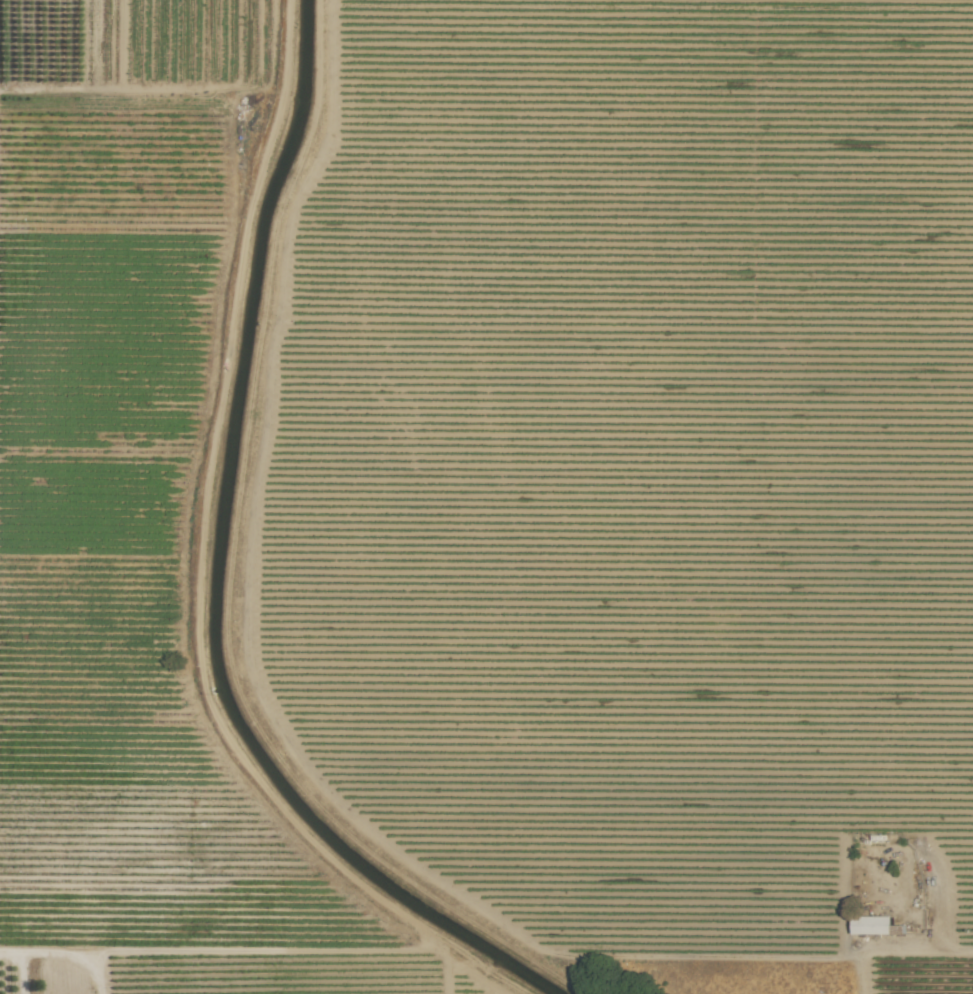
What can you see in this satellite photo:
building: (872, 924)
road: (927, 949)
road: (28, 954)
road: (86, 967)

